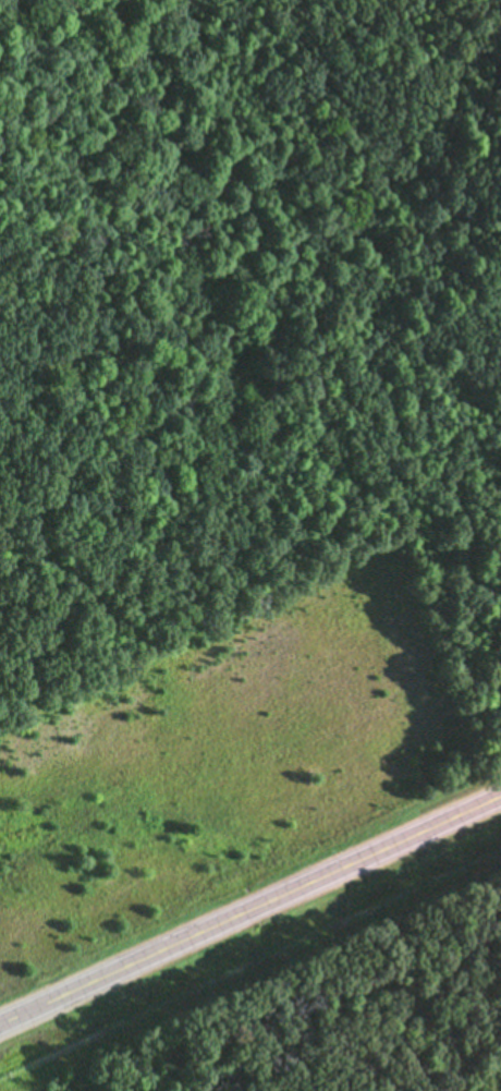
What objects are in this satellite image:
road: (250, 906)

